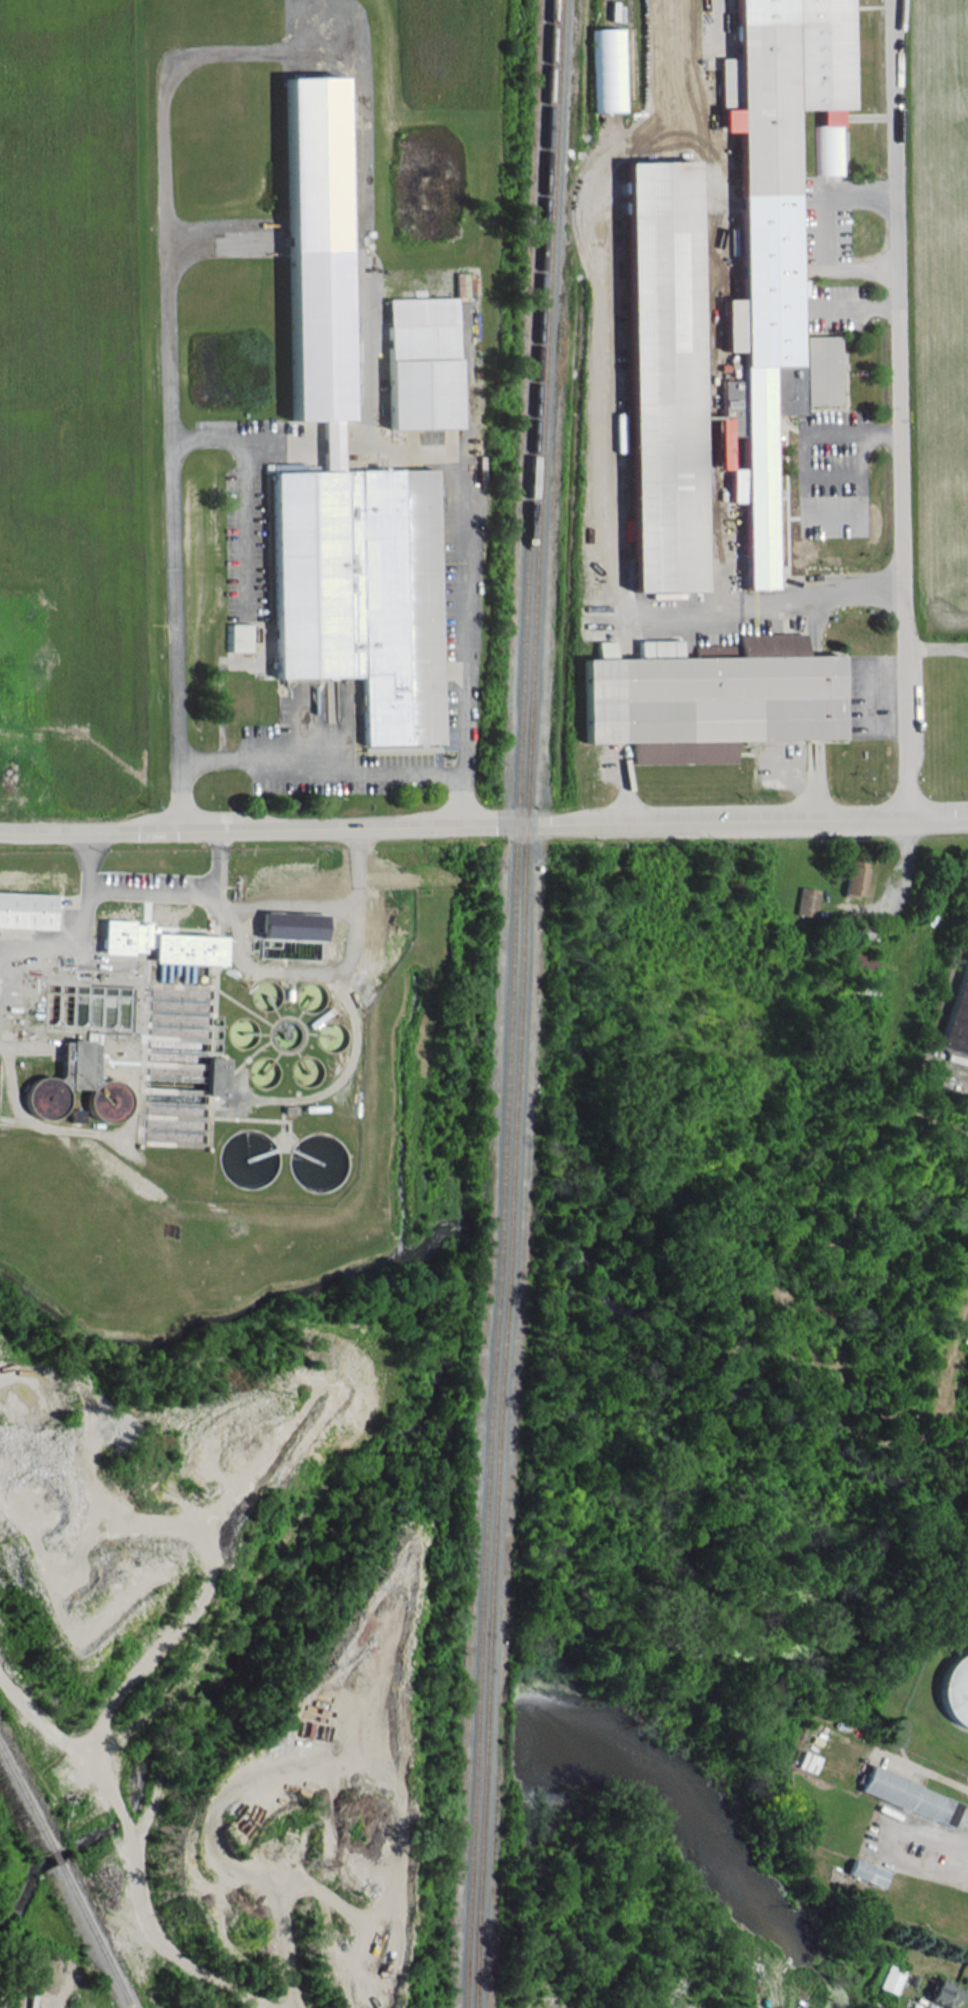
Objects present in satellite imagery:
road: (314, 51)
building: (608, 69)
road: (827, 228)
building: (771, 240)
building: (420, 363)
building: (659, 369)
building: (730, 408)
road: (899, 408)
road: (802, 492)
building: (349, 539)
building: (240, 637)
road: (936, 647)
road: (870, 694)
building: (708, 699)
road: (320, 765)
road: (179, 796)
road: (462, 799)
road: (483, 824)
road: (90, 865)
road: (216, 865)
building: (855, 877)
road: (903, 885)
building: (807, 901)
building: (26, 910)
building: (291, 926)
road: (237, 930)
building: (162, 943)
railway: (508, 945)
railway: (518, 945)
building: (957, 1016)
building: (217, 1076)
wastewater plant: (191, 1078)
building: (62, 1079)
building: (955, 1689)
building: (910, 1796)
railway: (25, 1800)
road: (940, 1828)
railway: (53, 1856)
building: (869, 1872)
railway: (93, 1934)
railway: (465, 1949)
railway: (474, 1949)
building: (892, 1979)
building: (946, 1993)

